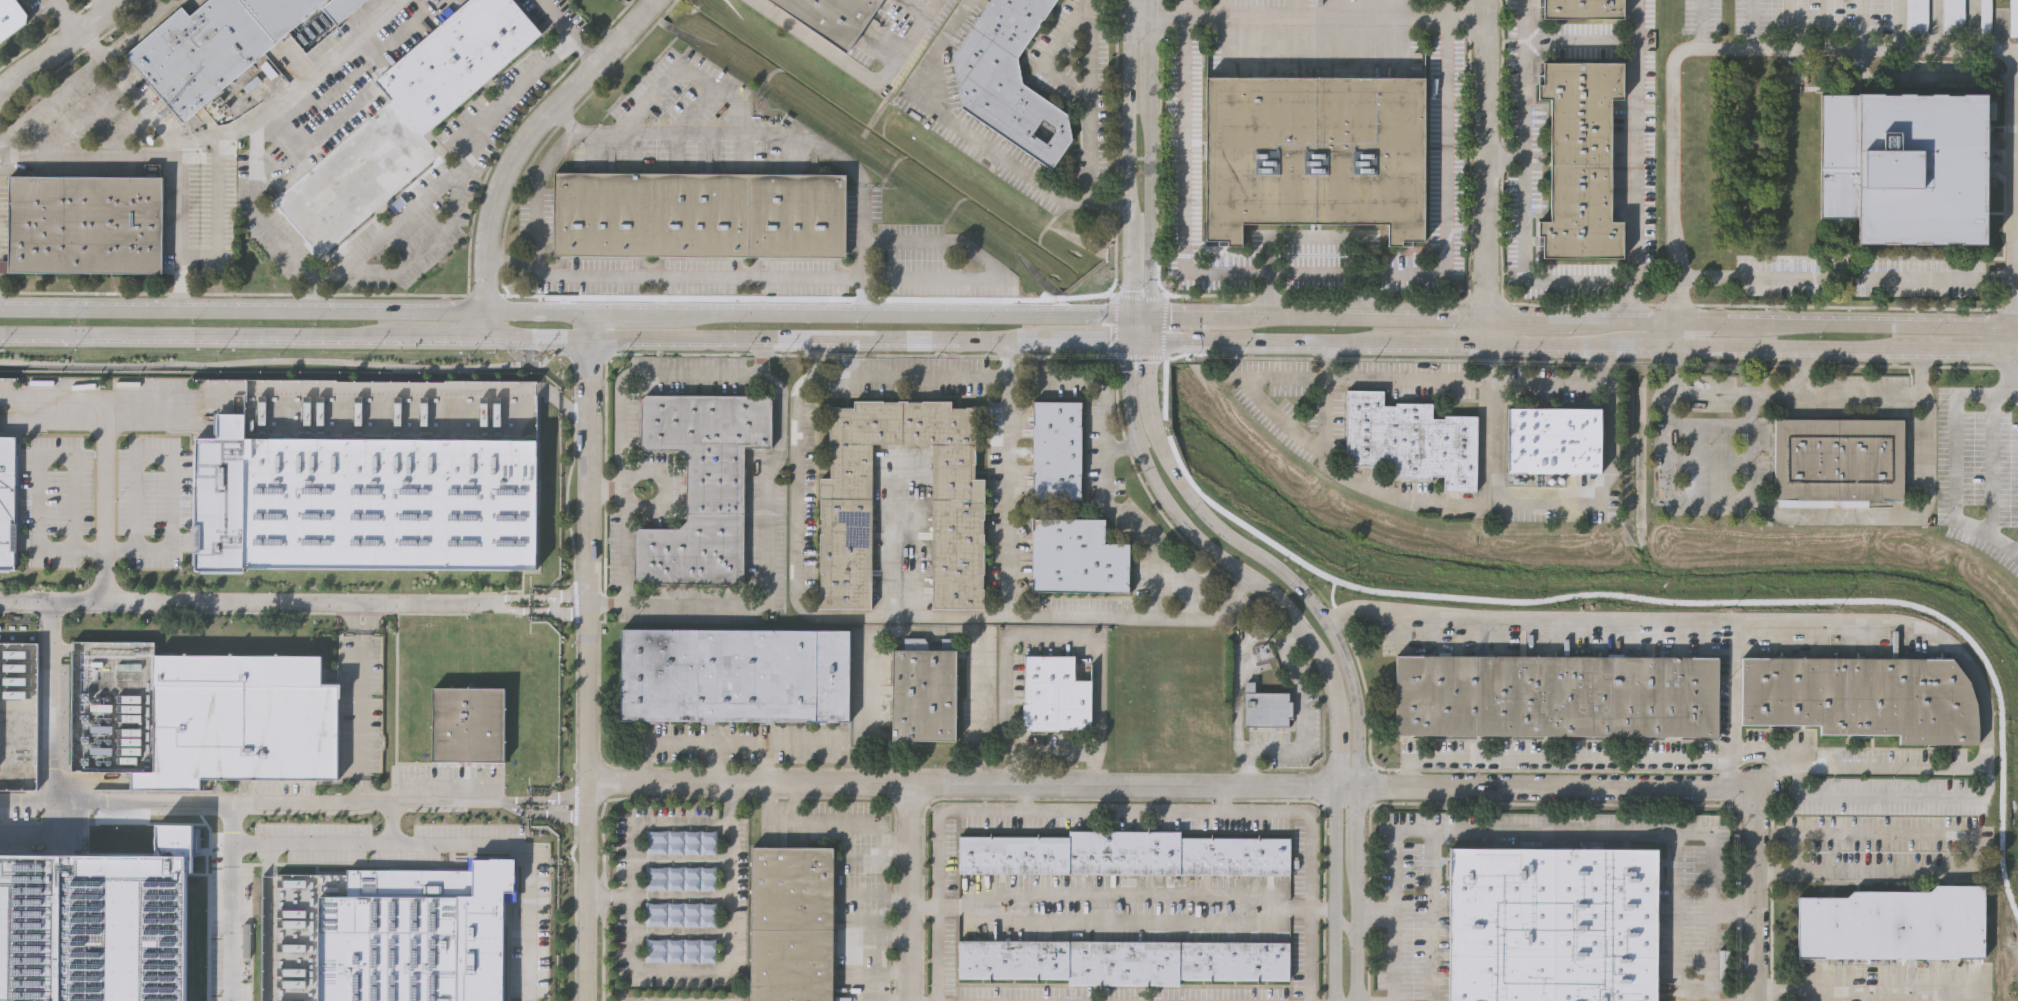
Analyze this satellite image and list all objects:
road: (114, 2)
road: (650, 5)
building: (339, 7)
building: (1583, 10)
building: (1984, 14)
parking lot: (1984, 14)
road: (1308, 17)
building: (1952, 17)
parking lot: (1952, 17)
building: (2013, 17)
parking lot: (2013, 17)
building: (9, 18)
road: (67, 18)
building: (831, 18)
building: (1917, 18)
parking lot: (1917, 18)
road: (1707, 24)
road: (1752, 25)
road: (1790, 25)
road: (1825, 26)
road: (1863, 26)
road: (1899, 26)
road: (1936, 27)
road: (1971, 27)
road: (571, 30)
road: (1110, 31)
road: (1580, 38)
building: (211, 45)
road: (62, 47)
road: (1715, 48)
road: (1048, 51)
road: (858, 67)
road: (84, 70)
building: (1007, 77)
road: (129, 90)
road: (1088, 100)
road: (1129, 115)
building: (407, 117)
road: (83, 119)
road: (331, 124)
road: (956, 124)
road: (1154, 124)
road: (124, 132)
road: (729, 134)
road: (257, 138)
road: (1636, 138)
road: (514, 150)
building: (1317, 152)
building: (1840, 153)
road: (136, 157)
road: (1504, 158)
road: (1485, 160)
building: (1579, 160)
building: (1923, 168)
road: (1184, 174)
road: (537, 175)
road: (459, 185)
road: (2016, 191)
road: (1523, 193)
road: (1107, 203)
road: (217, 211)
building: (699, 215)
road: (402, 218)
road: (1447, 221)
building: (85, 222)
road: (861, 232)
road: (180, 234)
road: (990, 269)
road: (1126, 275)
road: (1844, 276)
road: (688, 277)
road: (1150, 282)
road: (1268, 296)
road: (1632, 298)
road: (540, 311)
traffic signals: (1149, 316)
road: (1172, 316)
road: (1102, 317)
road: (1136, 317)
road: (1208, 317)
traffic signals: (1124, 318)
road: (1352, 318)
road: (1520, 321)
road: (1615, 321)
road: (1706, 321)
road: (1877, 325)
road: (2016, 328)
road: (1124, 330)
road: (1149, 330)
road: (201, 333)
road: (1484, 334)
road: (1672, 335)
road: (440, 336)
road: (764, 339)
road: (2014, 341)
road: (1067, 342)
road: (1104, 343)
traffic signals: (1125, 343)
road: (1137, 343)
traffic signals: (1150, 344)
road: (1172, 344)
road: (1298, 345)
road: (1443, 347)
road: (1552, 348)
road: (1646, 349)
road: (1800, 349)
road: (1971, 353)
road: (2016, 354)
road: (817, 356)
road: (23, 362)
road: (1484, 364)
road: (1126, 367)
road: (1150, 369)
road: (855, 373)
road: (1464, 380)
road: (1712, 387)
road: (306, 389)
road: (7, 392)
road: (1881, 392)
road: (2014, 393)
road: (2014, 395)
road: (574, 415)
road: (622, 423)
building: (1412, 439)
building: (1552, 439)
road: (1956, 446)
building: (1057, 449)
building: (1837, 460)
road: (1992, 466)
road: (1006, 483)
building: (701, 485)
road: (1363, 487)
road: (605, 488)
road: (1599, 492)
road: (104, 498)
building: (363, 499)
building: (8, 500)
road: (1734, 500)
road: (1896, 516)
road: (1125, 520)
building: (844, 542)
road: (904, 545)
road: (105, 551)
road: (770, 553)
building: (1076, 557)
road: (559, 596)
road: (510, 598)
road: (246, 604)
road: (553, 605)
road: (509, 609)
road: (557, 613)
road: (1528, 614)
road: (930, 624)
road: (588, 656)
road: (1961, 656)
road: (1353, 657)
road: (1324, 658)
road: (1099, 667)
building: (733, 675)
building: (920, 692)
building: (1053, 694)
building: (1555, 696)
building: (1861, 698)
road: (360, 702)
road: (1008, 703)
road: (978, 704)
parking lot: (362, 706)
building: (1266, 707)
road: (868, 711)
building: (241, 716)
building: (469, 723)
road: (723, 745)
road: (1055, 752)
road: (1556, 759)
road: (1780, 762)
road: (715, 763)
road: (764, 763)
road: (1856, 766)
road: (1172, 785)
road: (558, 797)
road: (514, 799)
road: (25, 801)
road: (61, 801)
road: (367, 801)
road: (793, 804)
road: (552, 806)
road: (1122, 810)
road: (543, 812)
road: (392, 822)
road: (646, 826)
road: (884, 830)
road: (1579, 832)
road: (48, 835)
building: (457, 843)
road: (455, 844)
road: (897, 844)
road: (1309, 849)
road: (1973, 850)
road: (940, 852)
building: (1123, 857)
road: (910, 892)
road: (897, 898)
road: (1757, 902)
road: (925, 907)
road: (1411, 910)
road: (1431, 915)
road: (232, 921)
road: (269, 921)
building: (31, 923)
building: (790, 923)
building: (1554, 923)
building: (1894, 923)
road: (1350, 932)
building: (417, 933)
road: (897, 934)
road: (1391, 939)
road: (1711, 959)
building: (1126, 960)
road: (713, 969)
road: (897, 972)
road: (1871, 990)

